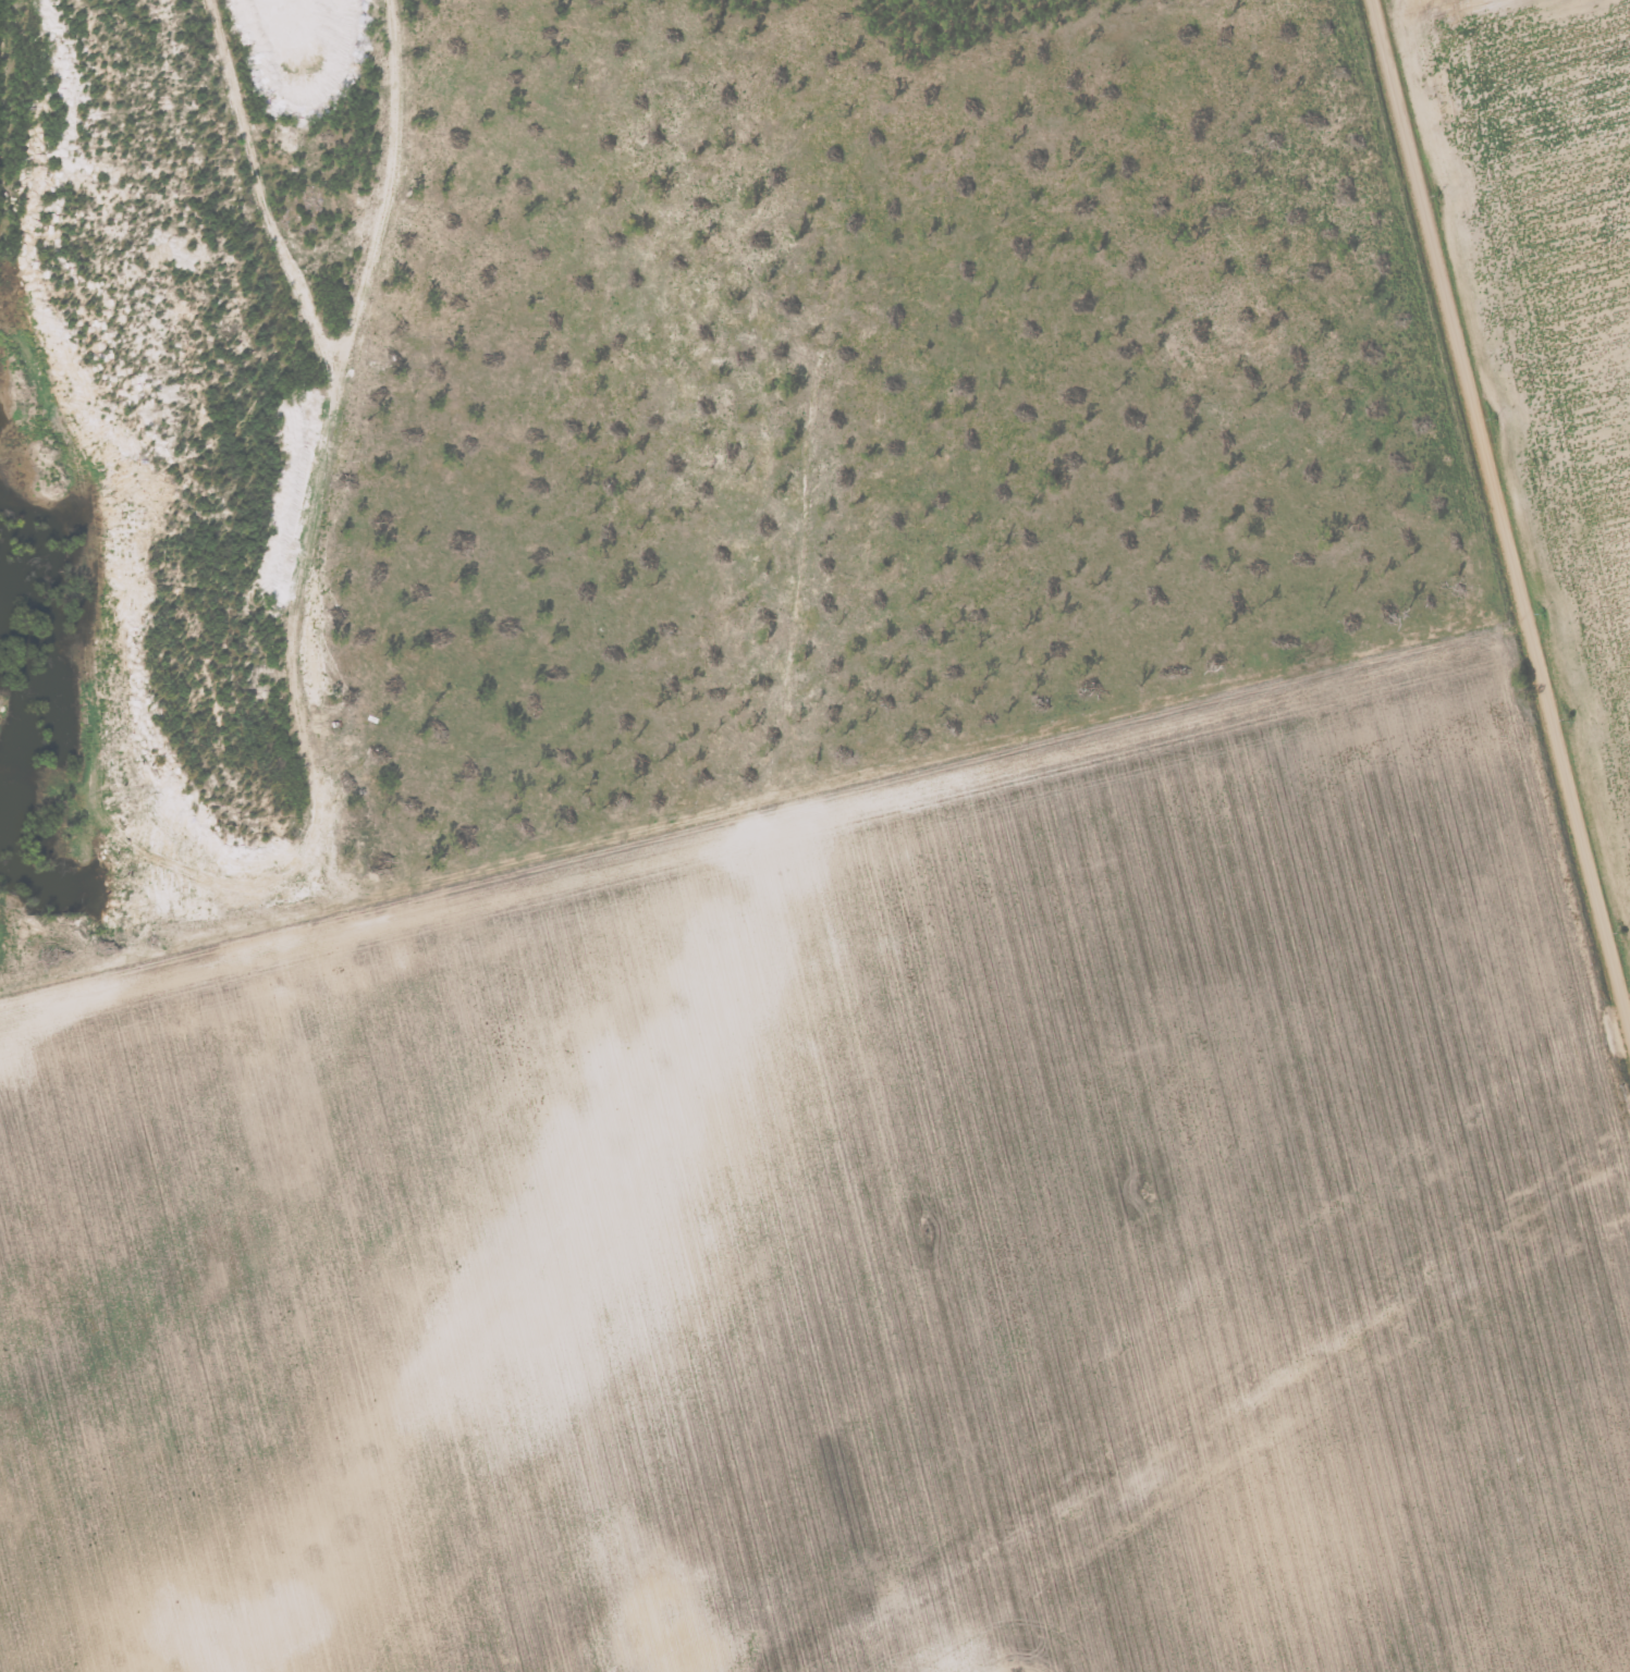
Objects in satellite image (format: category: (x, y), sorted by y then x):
road: (1503, 550)

